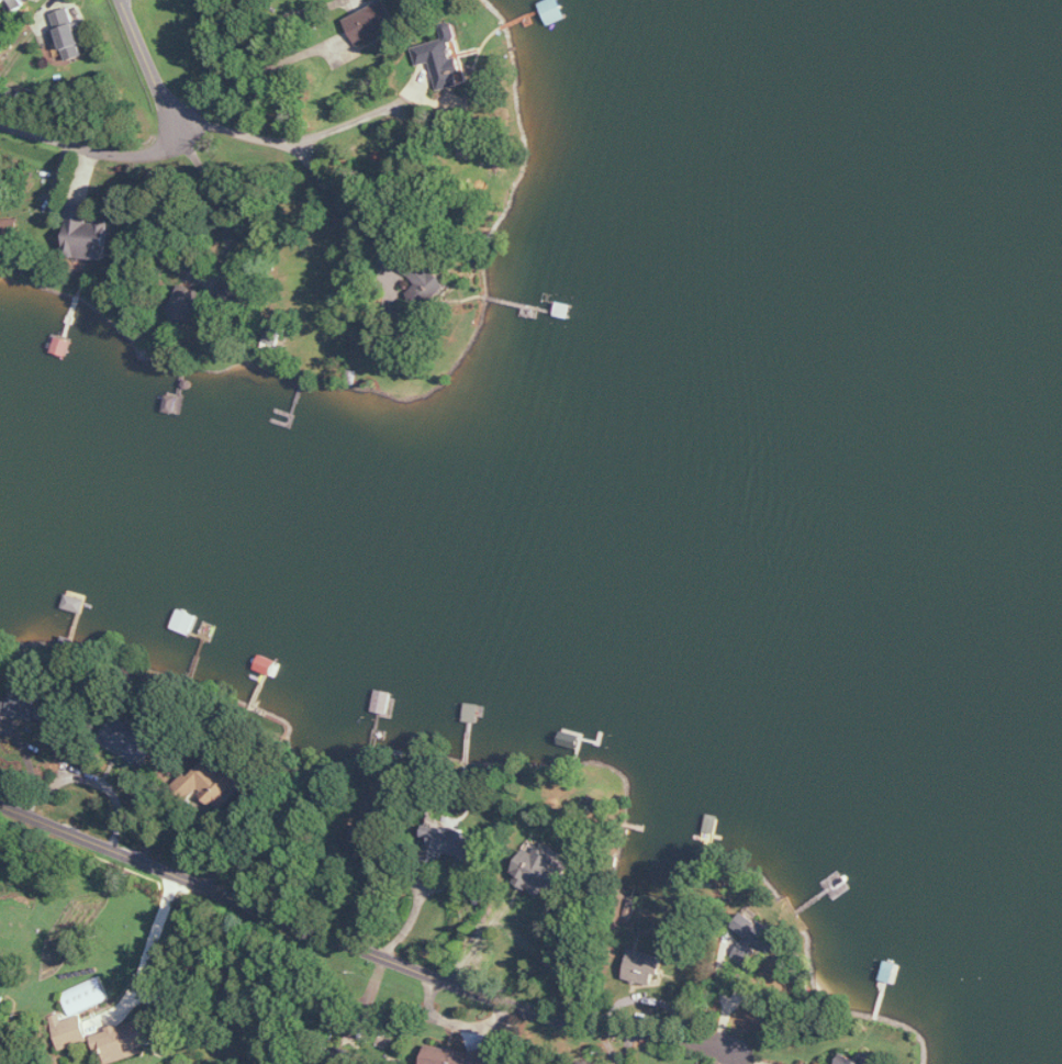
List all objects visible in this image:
building: (16, 5)
road: (275, 23)
building: (372, 23)
building: (69, 32)
building: (445, 59)
road: (146, 63)
road: (257, 68)
road: (281, 138)
road: (97, 150)
road: (86, 172)
road: (342, 201)
building: (9, 233)
building: (88, 235)
road: (227, 256)
building: (189, 304)
building: (26, 706)
building: (130, 740)
building: (382, 810)
building: (365, 838)
building: (459, 844)
building: (543, 871)
road: (413, 919)
building: (754, 938)
road: (358, 947)
road: (152, 954)
building: (88, 996)
road: (725, 1005)
road: (455, 1023)
road: (607, 1039)
building: (126, 1041)
building: (348, 1056)
building: (458, 1056)
building: (860, 1060)

